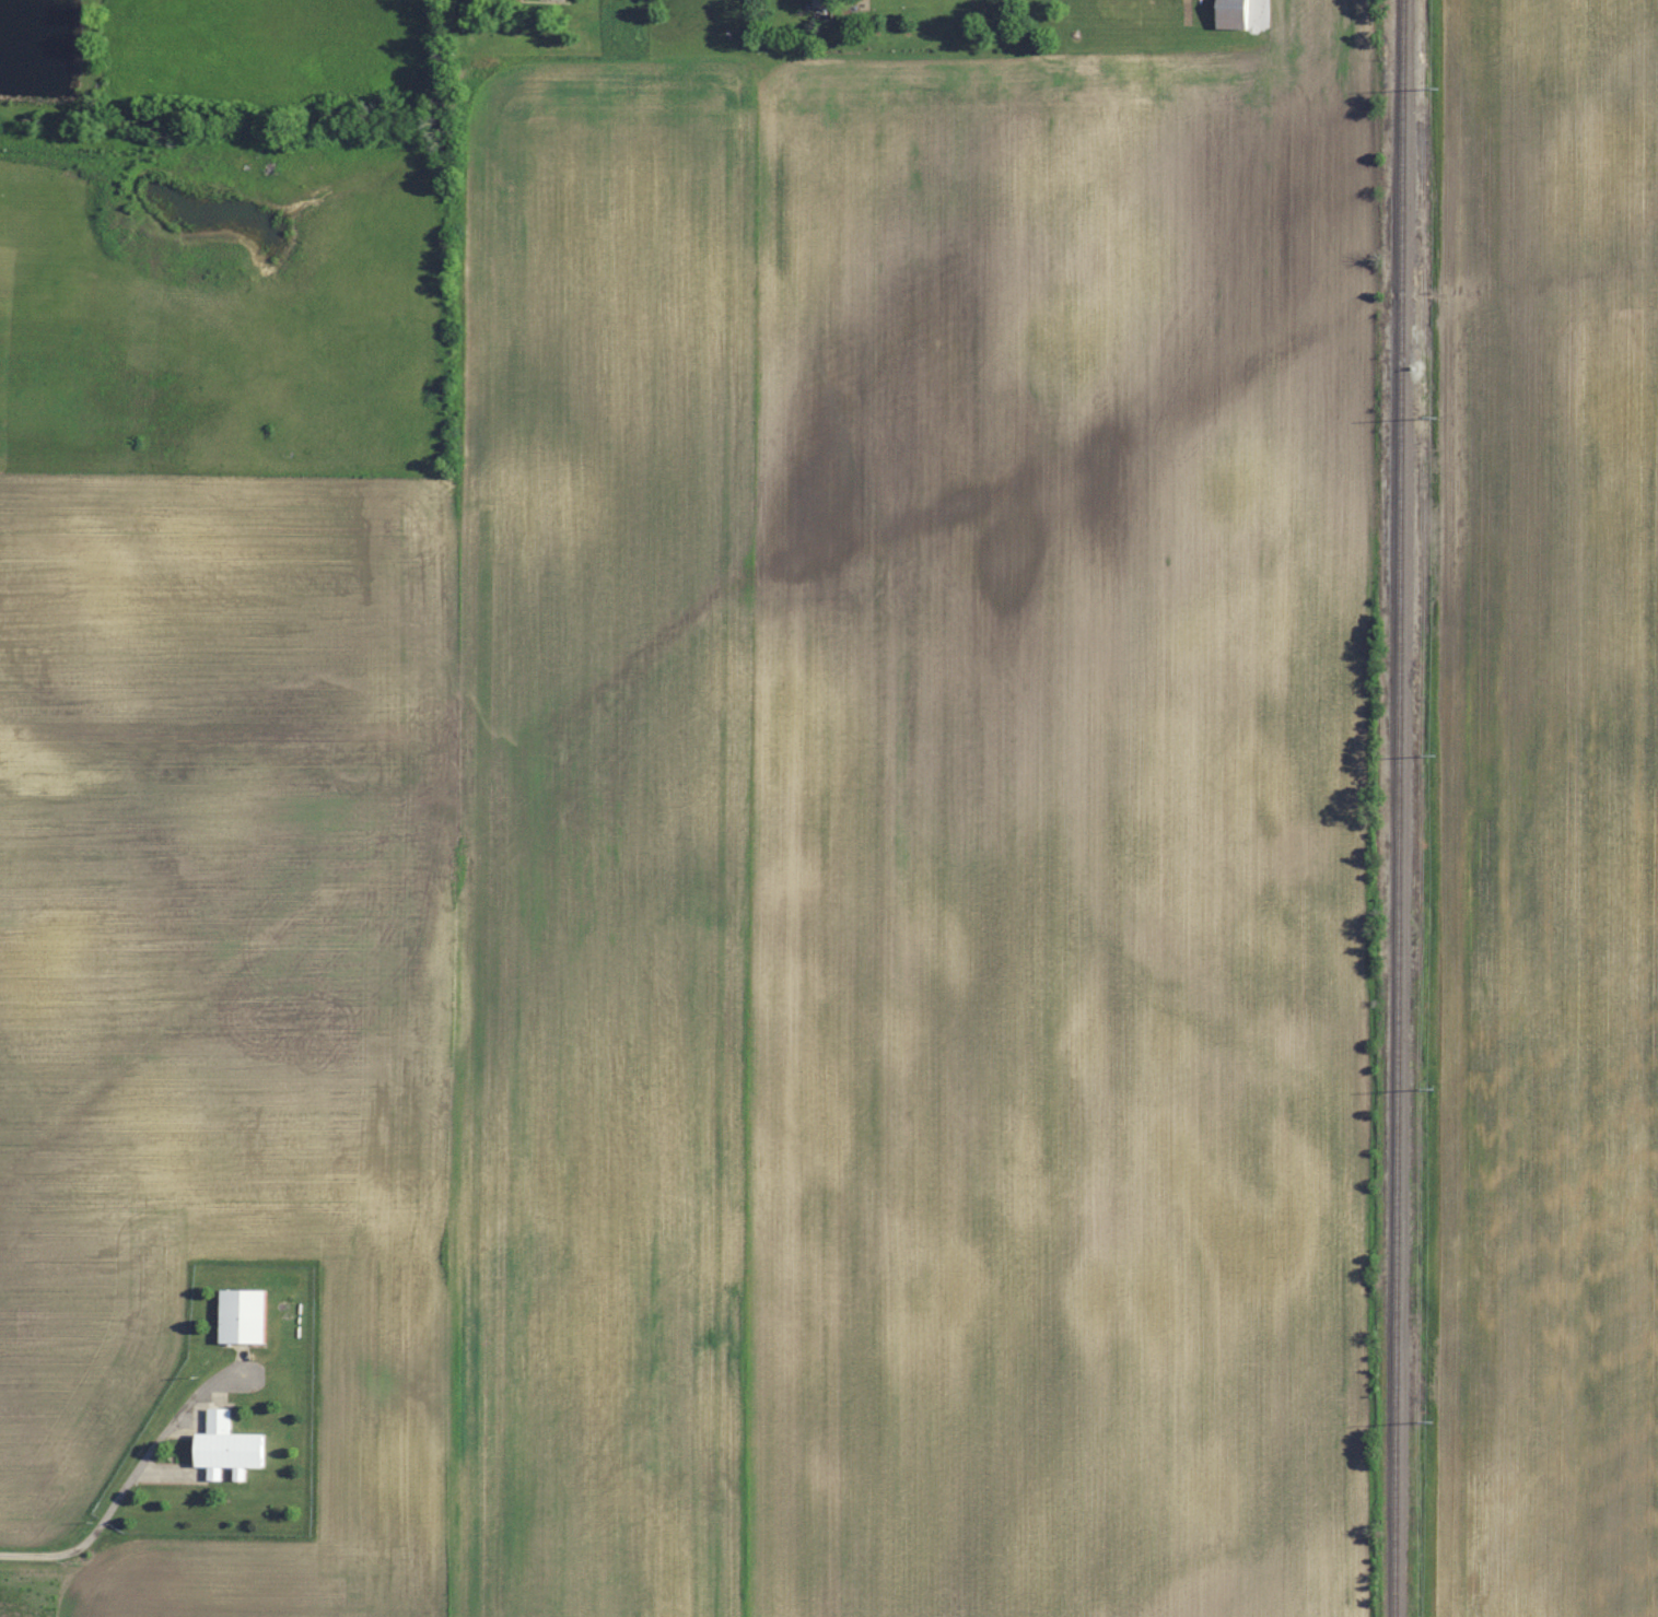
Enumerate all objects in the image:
building: (1236, 14)
railway: (1400, 808)
building: (246, 1315)
building: (231, 1448)
road: (122, 1485)

